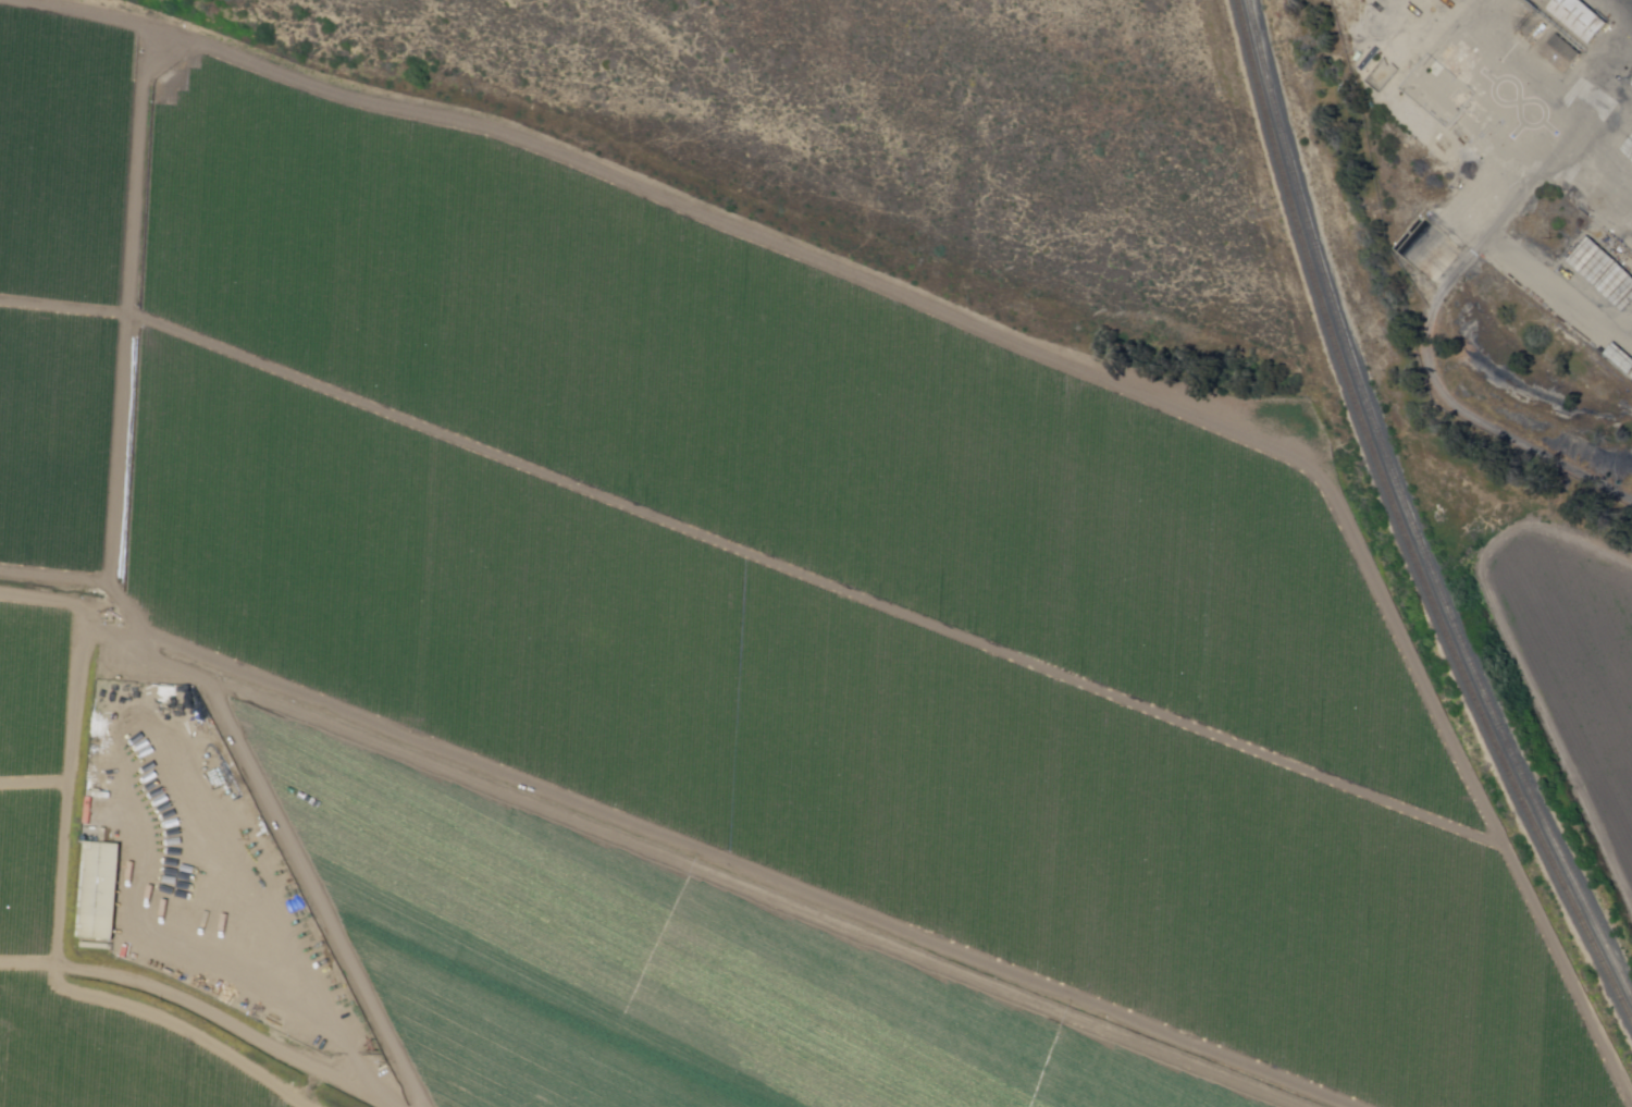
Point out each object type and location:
building: (1581, 19)
building: (1562, 56)
park: (952, 115)
crop: (63, 283)
railway: (1409, 512)
railway: (1400, 524)
crop: (814, 592)
crop: (1581, 666)
crop: (35, 690)
crop: (29, 870)
building: (101, 891)
crop: (678, 948)
crop: (504, 1043)
crop: (113, 1057)

